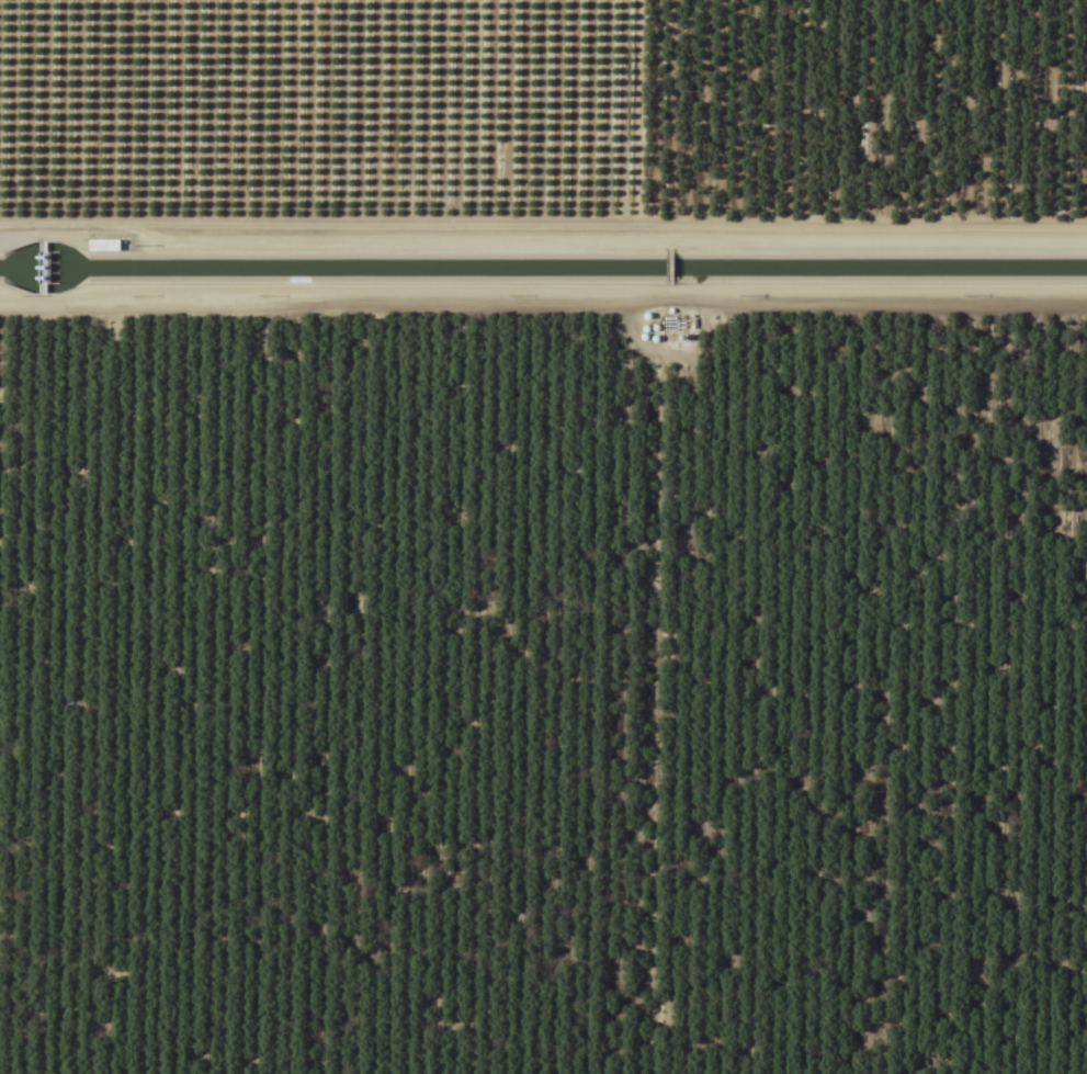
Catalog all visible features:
road: (567, 58)
crop: (543, 536)

